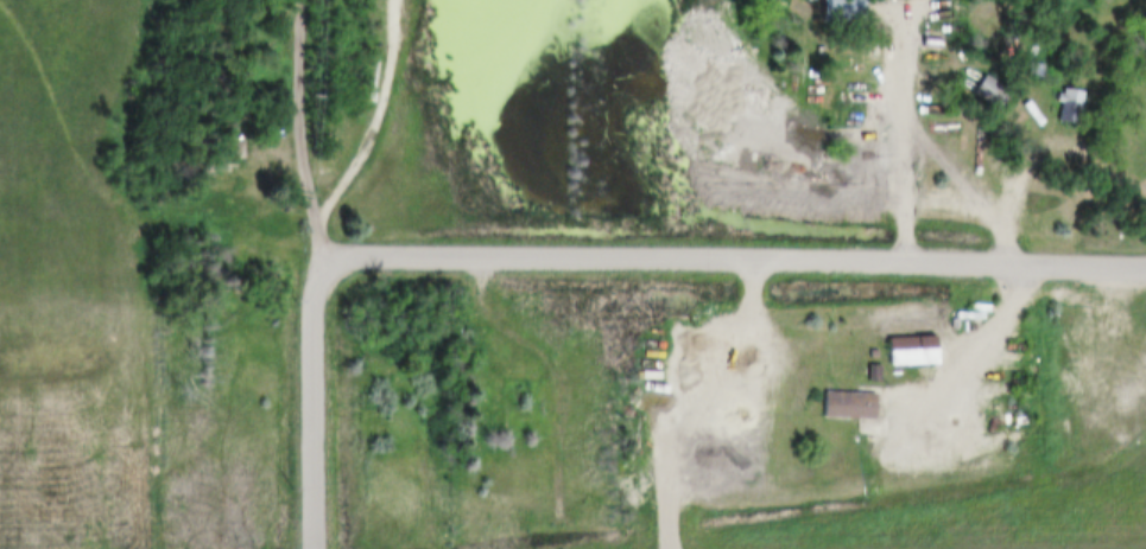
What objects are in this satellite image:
building: (834, 9)
building: (924, 39)
building: (980, 90)
building: (994, 92)
building: (1060, 104)
building: (1071, 107)
road: (368, 117)
road: (912, 128)
road: (290, 132)
road: (732, 258)
building: (901, 347)
building: (989, 394)
road: (684, 396)
building: (840, 403)
road: (321, 404)

